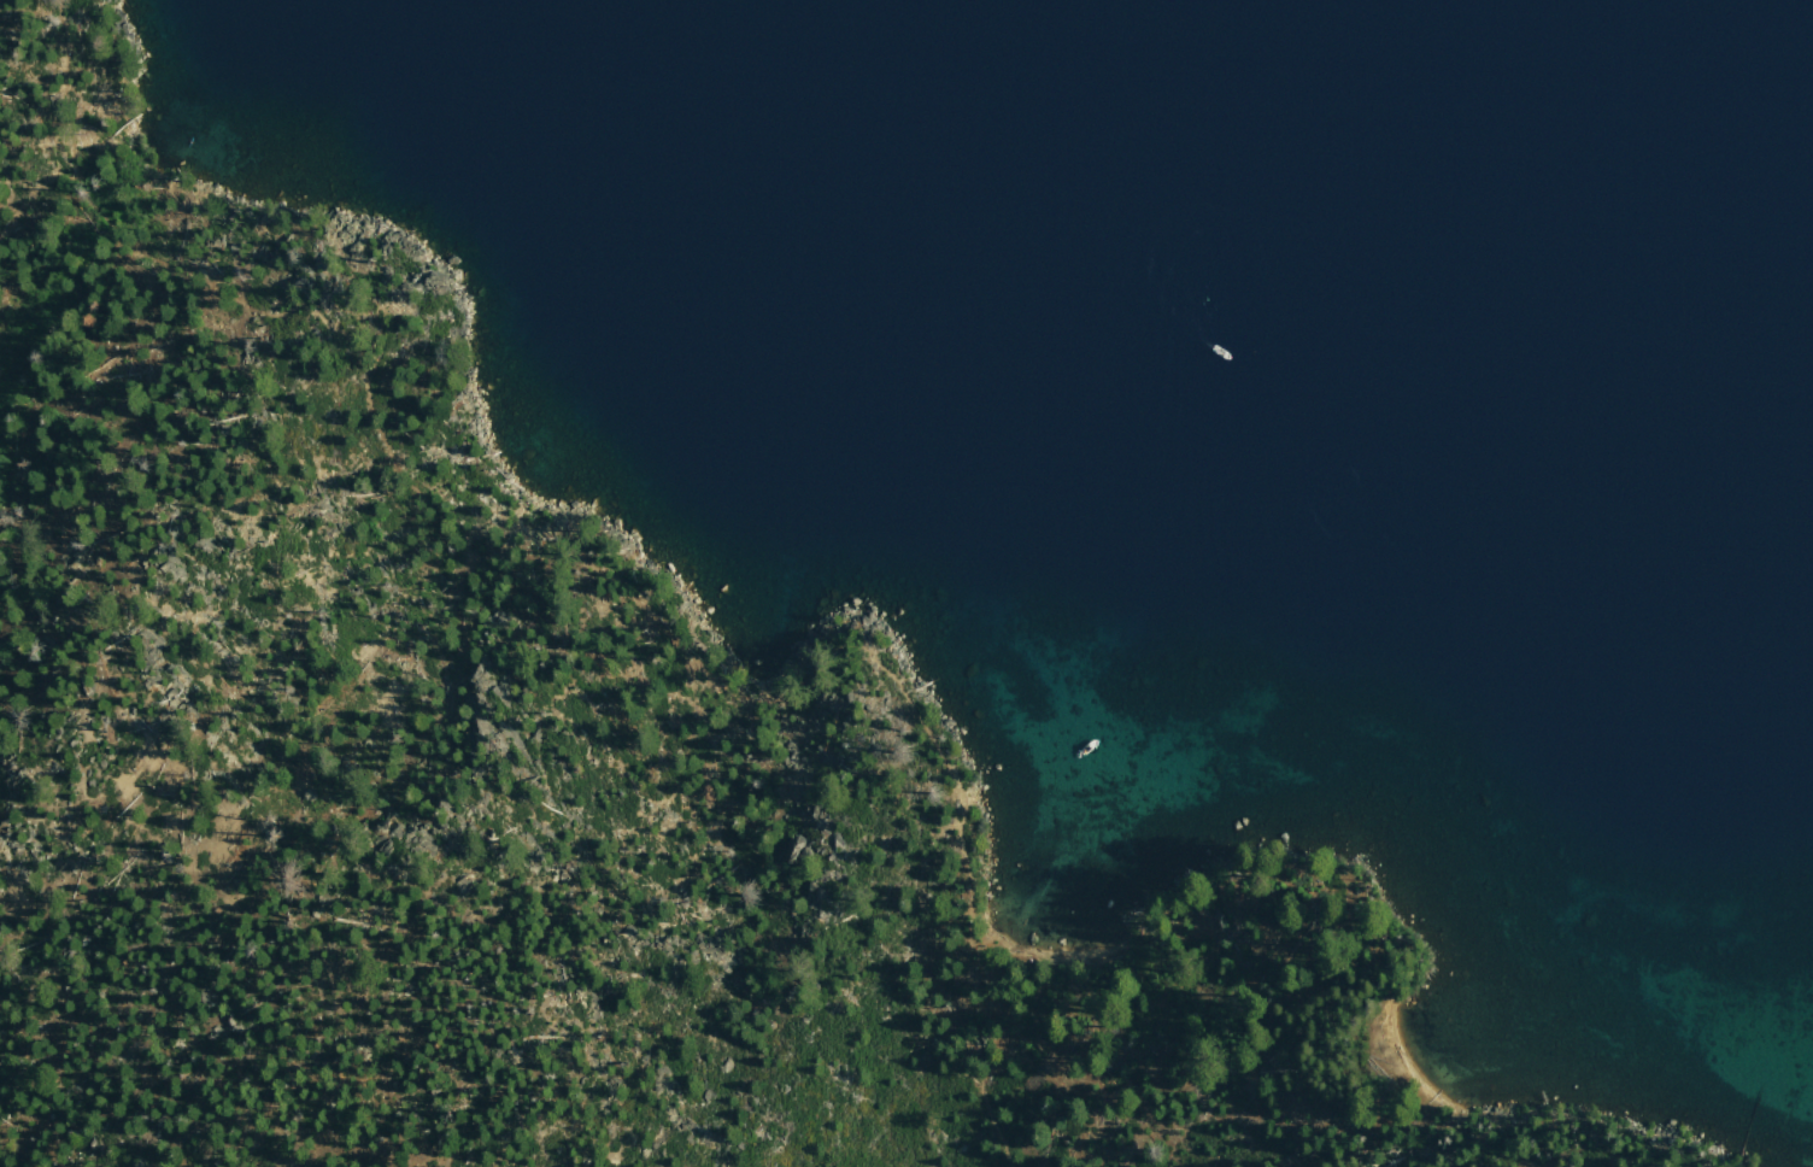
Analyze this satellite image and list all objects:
road: (592, 581)
road: (1016, 950)

